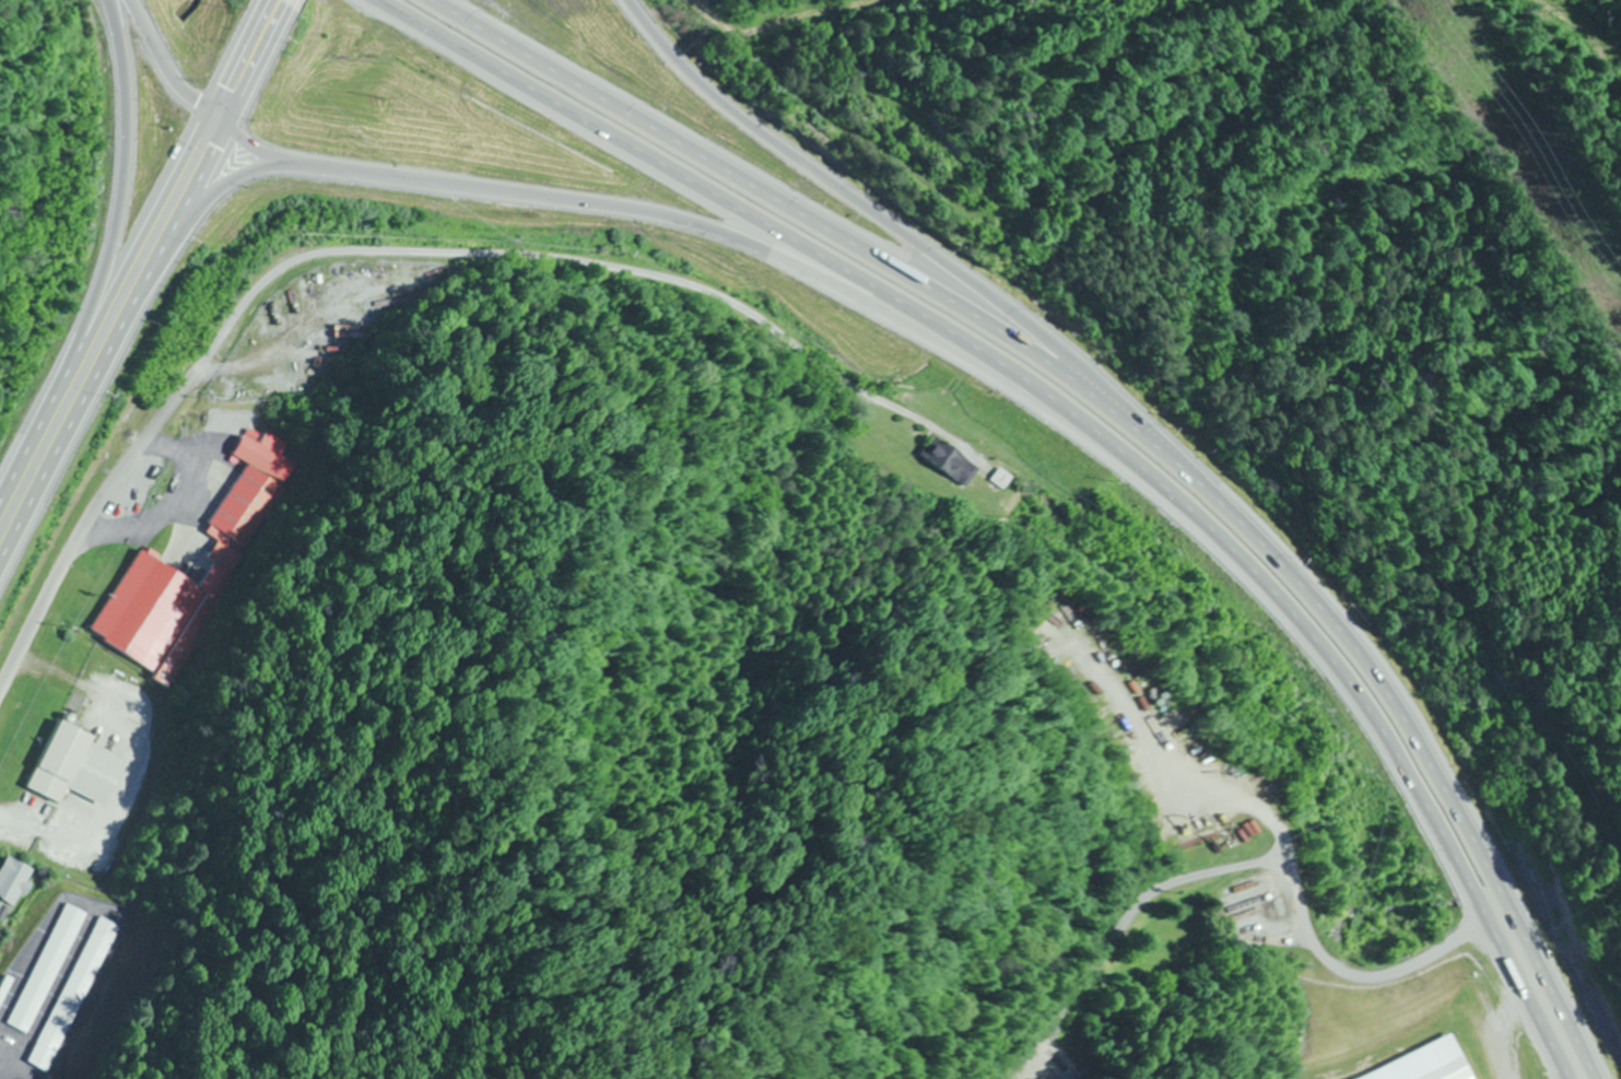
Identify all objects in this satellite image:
road: (710, 17)
road: (263, 21)
road: (226, 78)
traffic signals: (223, 85)
traffic signals: (196, 105)
road: (200, 107)
road: (235, 108)
traffic signals: (219, 148)
road: (684, 179)
road: (125, 188)
road: (596, 206)
road: (821, 222)
road: (904, 235)
road: (141, 243)
road: (368, 253)
road: (92, 399)
road: (36, 438)
building: (948, 461)
road: (184, 508)
building: (227, 562)
road: (1275, 603)
road: (1367, 666)
building: (81, 766)
road: (1285, 855)
building: (16, 880)
road: (1497, 905)
building: (1, 906)
road: (1557, 987)
road: (1523, 996)
building: (1413, 1065)

